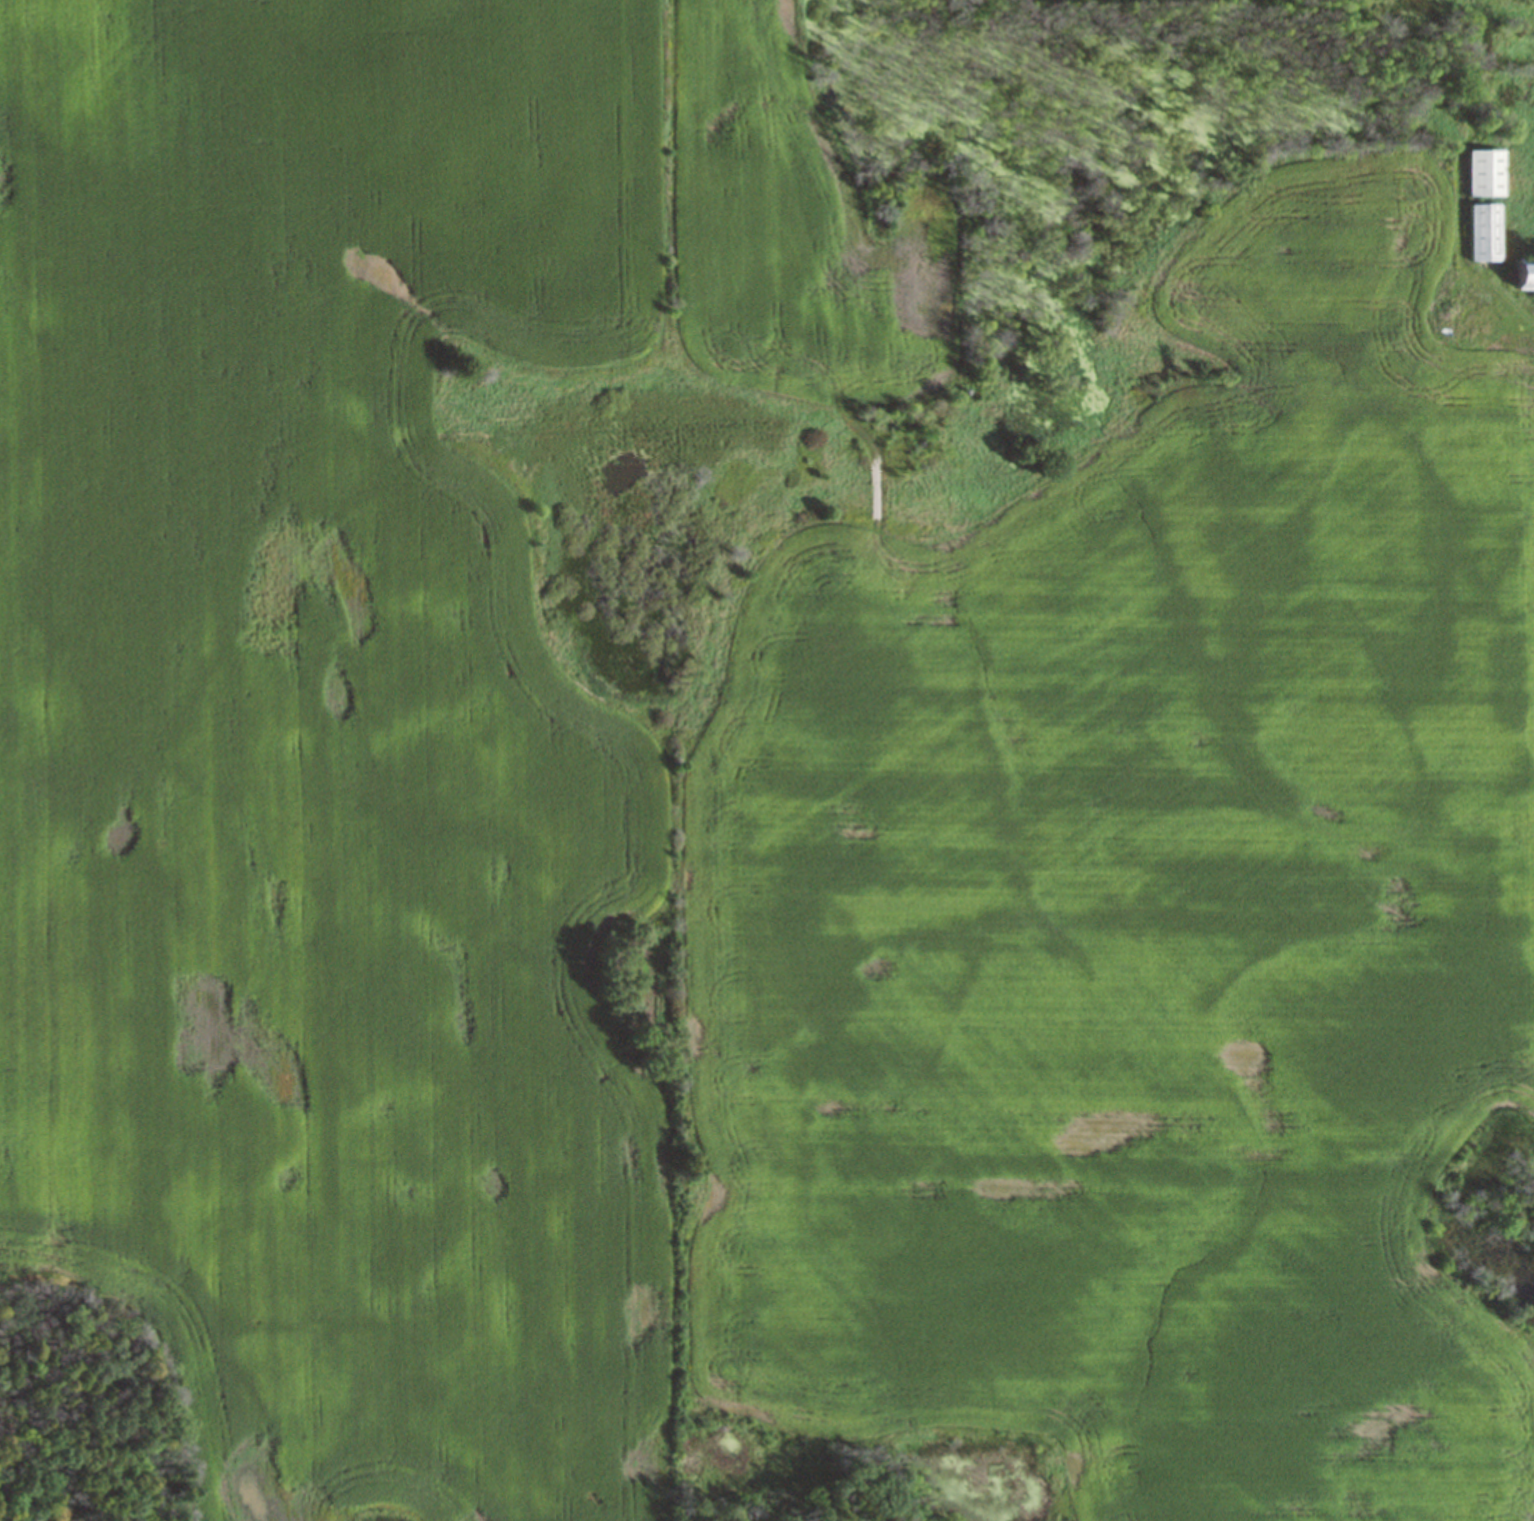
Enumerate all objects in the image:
building: (1487, 172)
building: (1486, 232)
building: (1526, 272)
building: (1493, 334)
building: (1519, 368)

